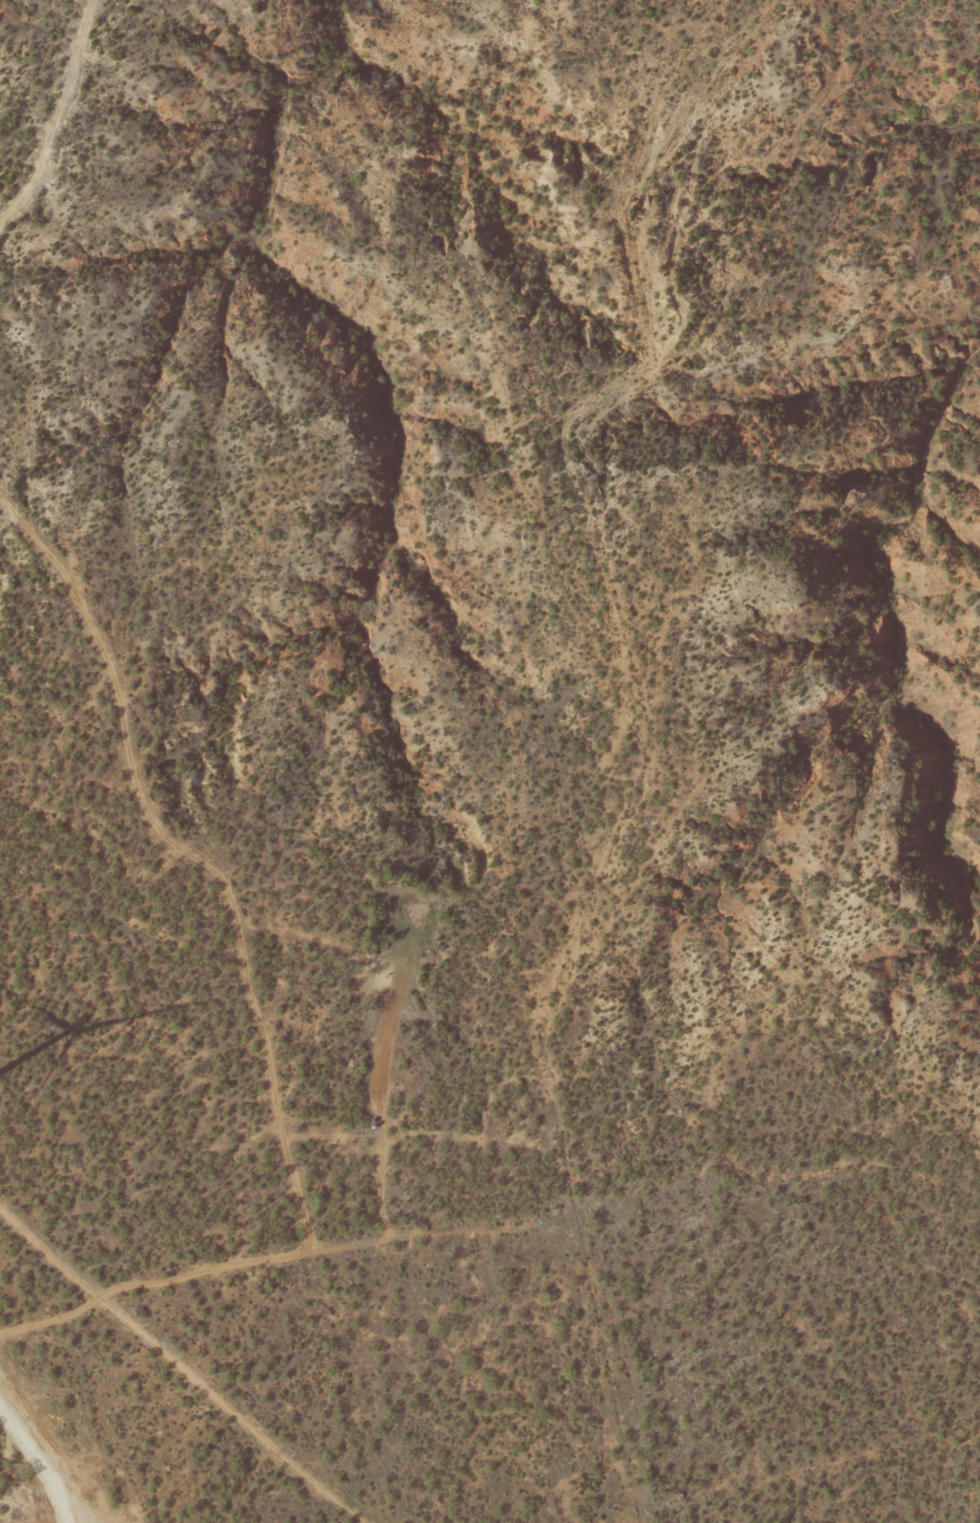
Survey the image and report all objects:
road: (618, 742)
road: (31, 1477)

